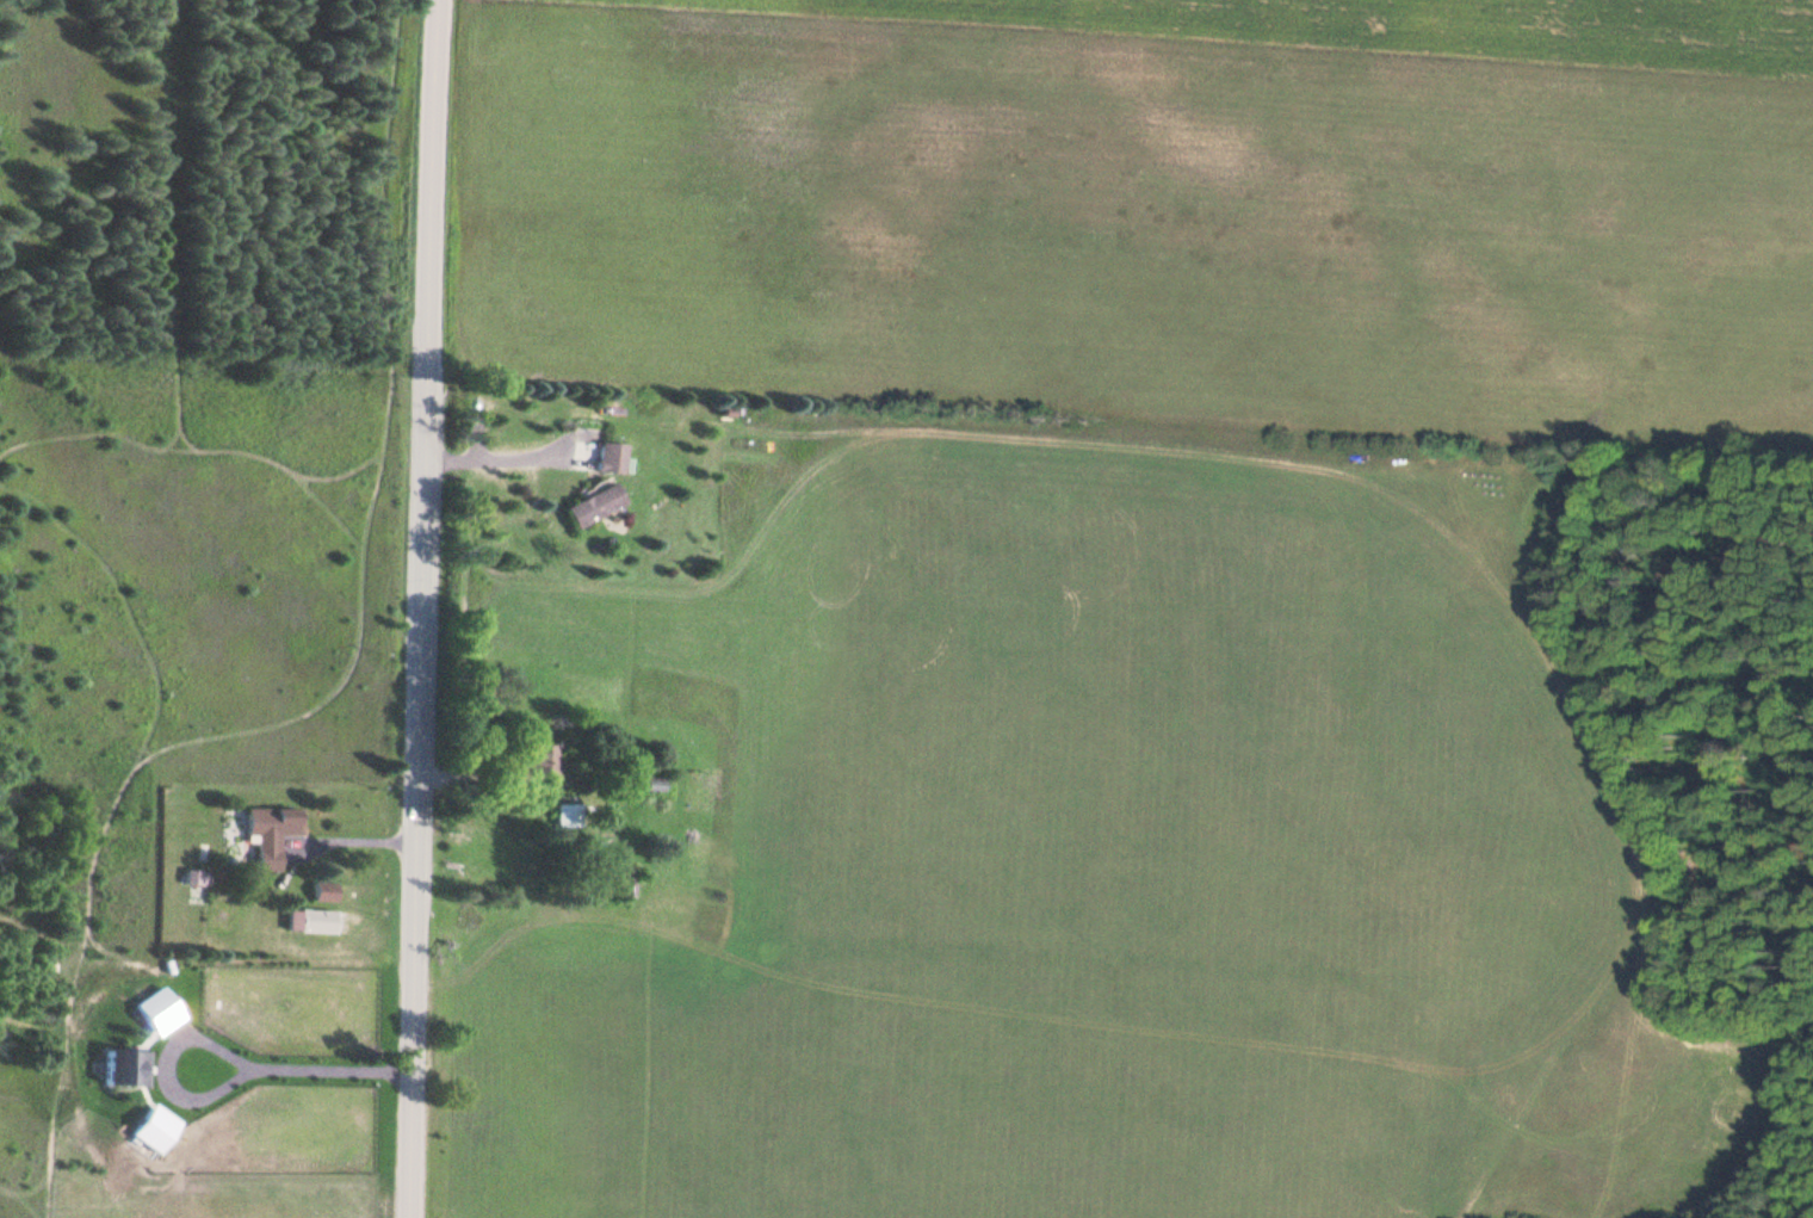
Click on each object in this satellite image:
building: (610, 455)
building: (590, 503)
road: (426, 608)
building: (539, 759)
building: (565, 814)
building: (272, 833)
building: (193, 876)
building: (623, 879)
building: (322, 889)
building: (315, 919)

